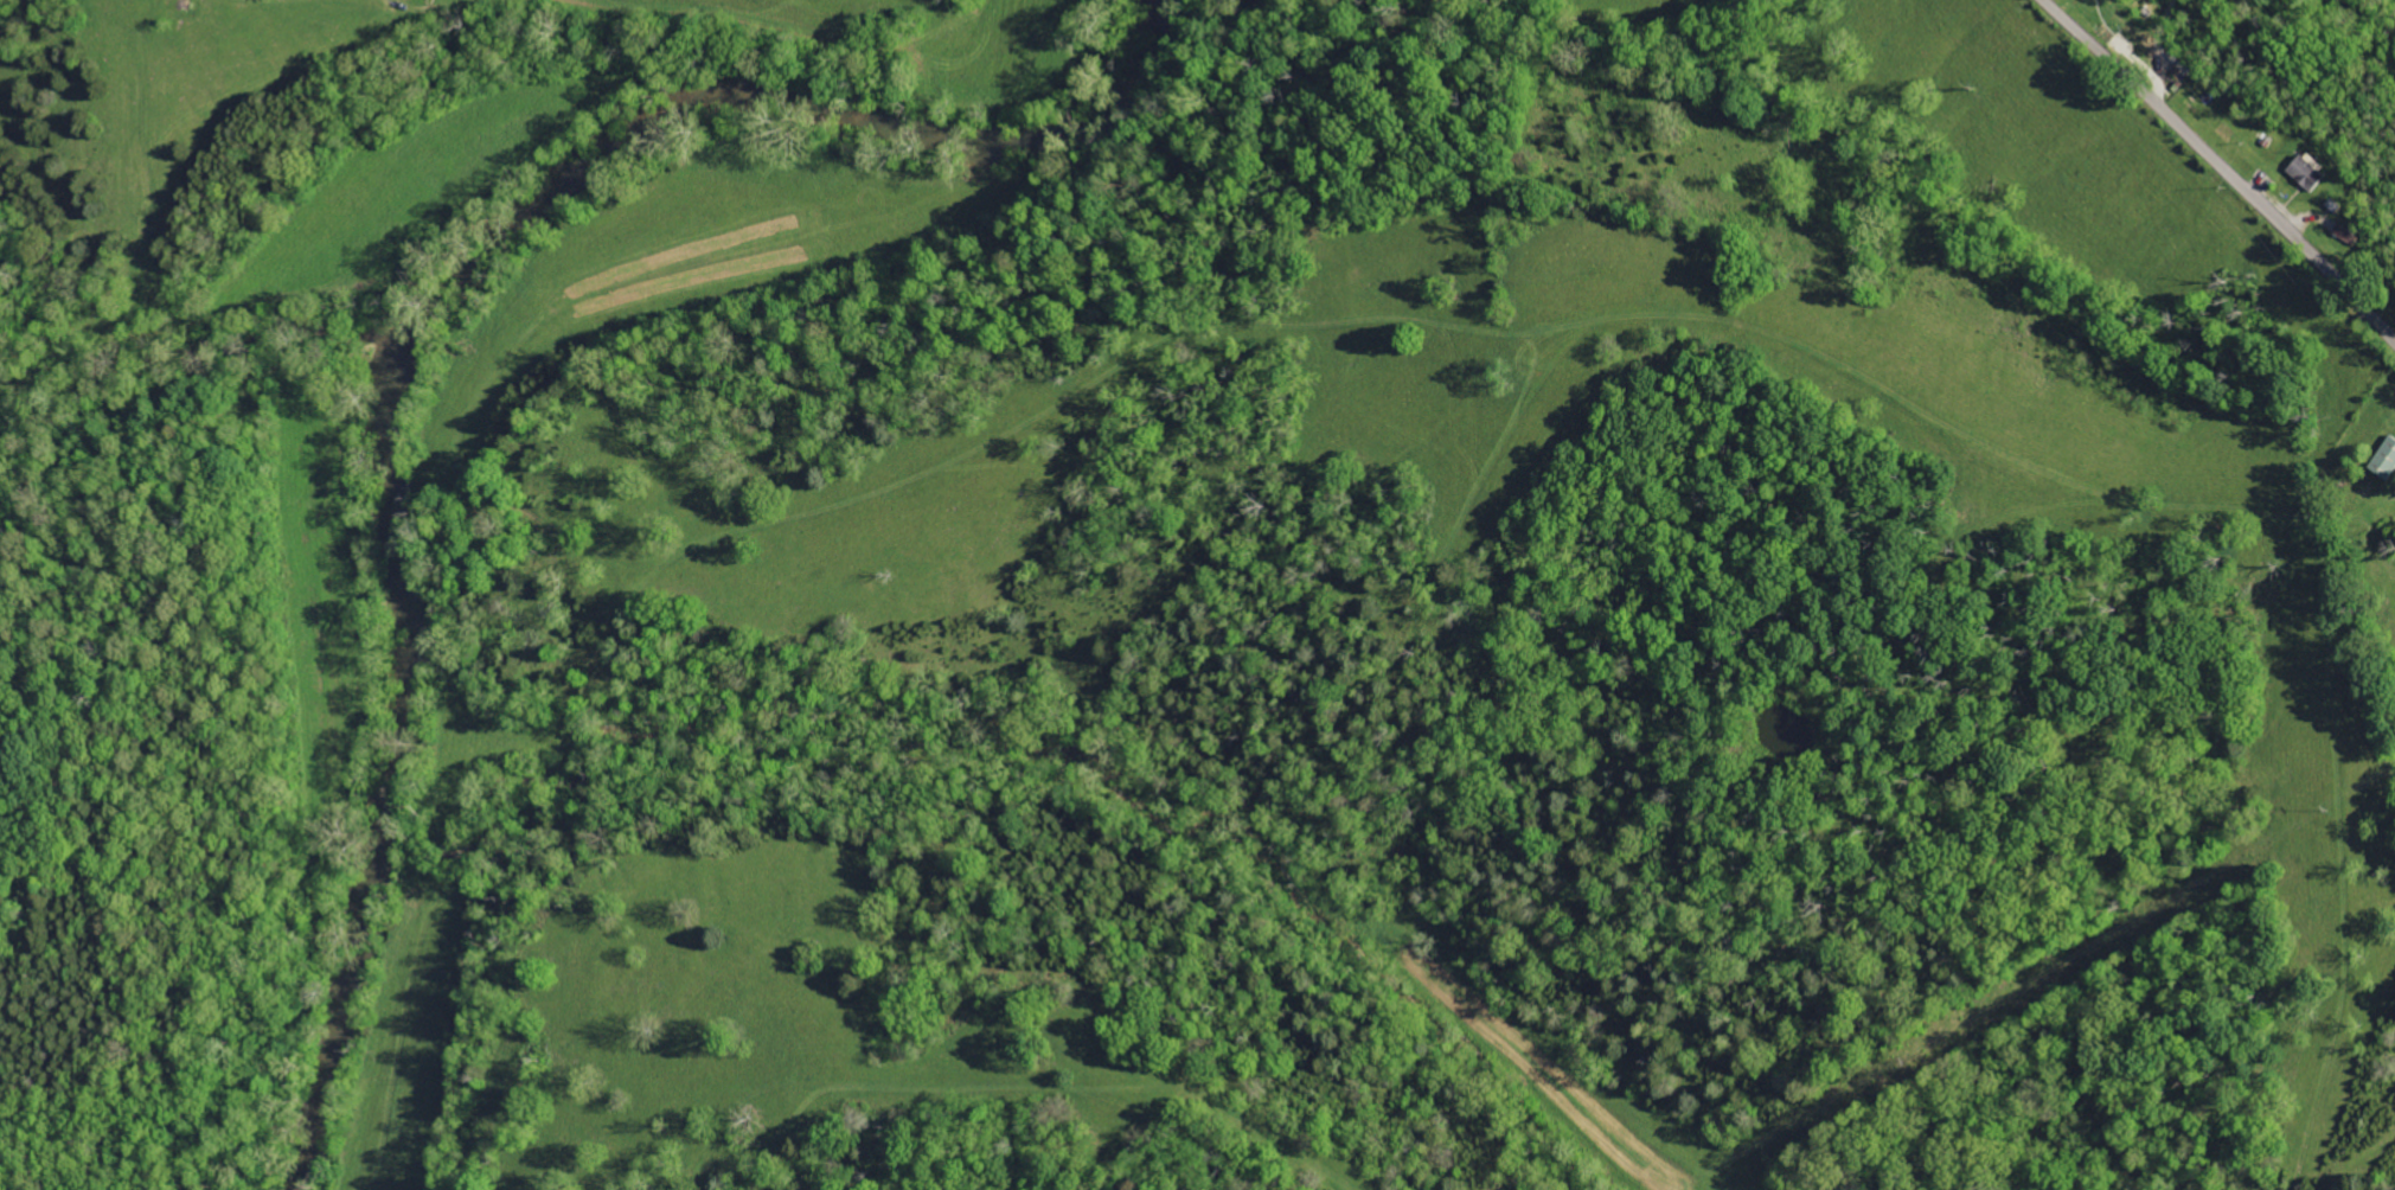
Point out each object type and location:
road: (2222, 167)
building: (2384, 459)

